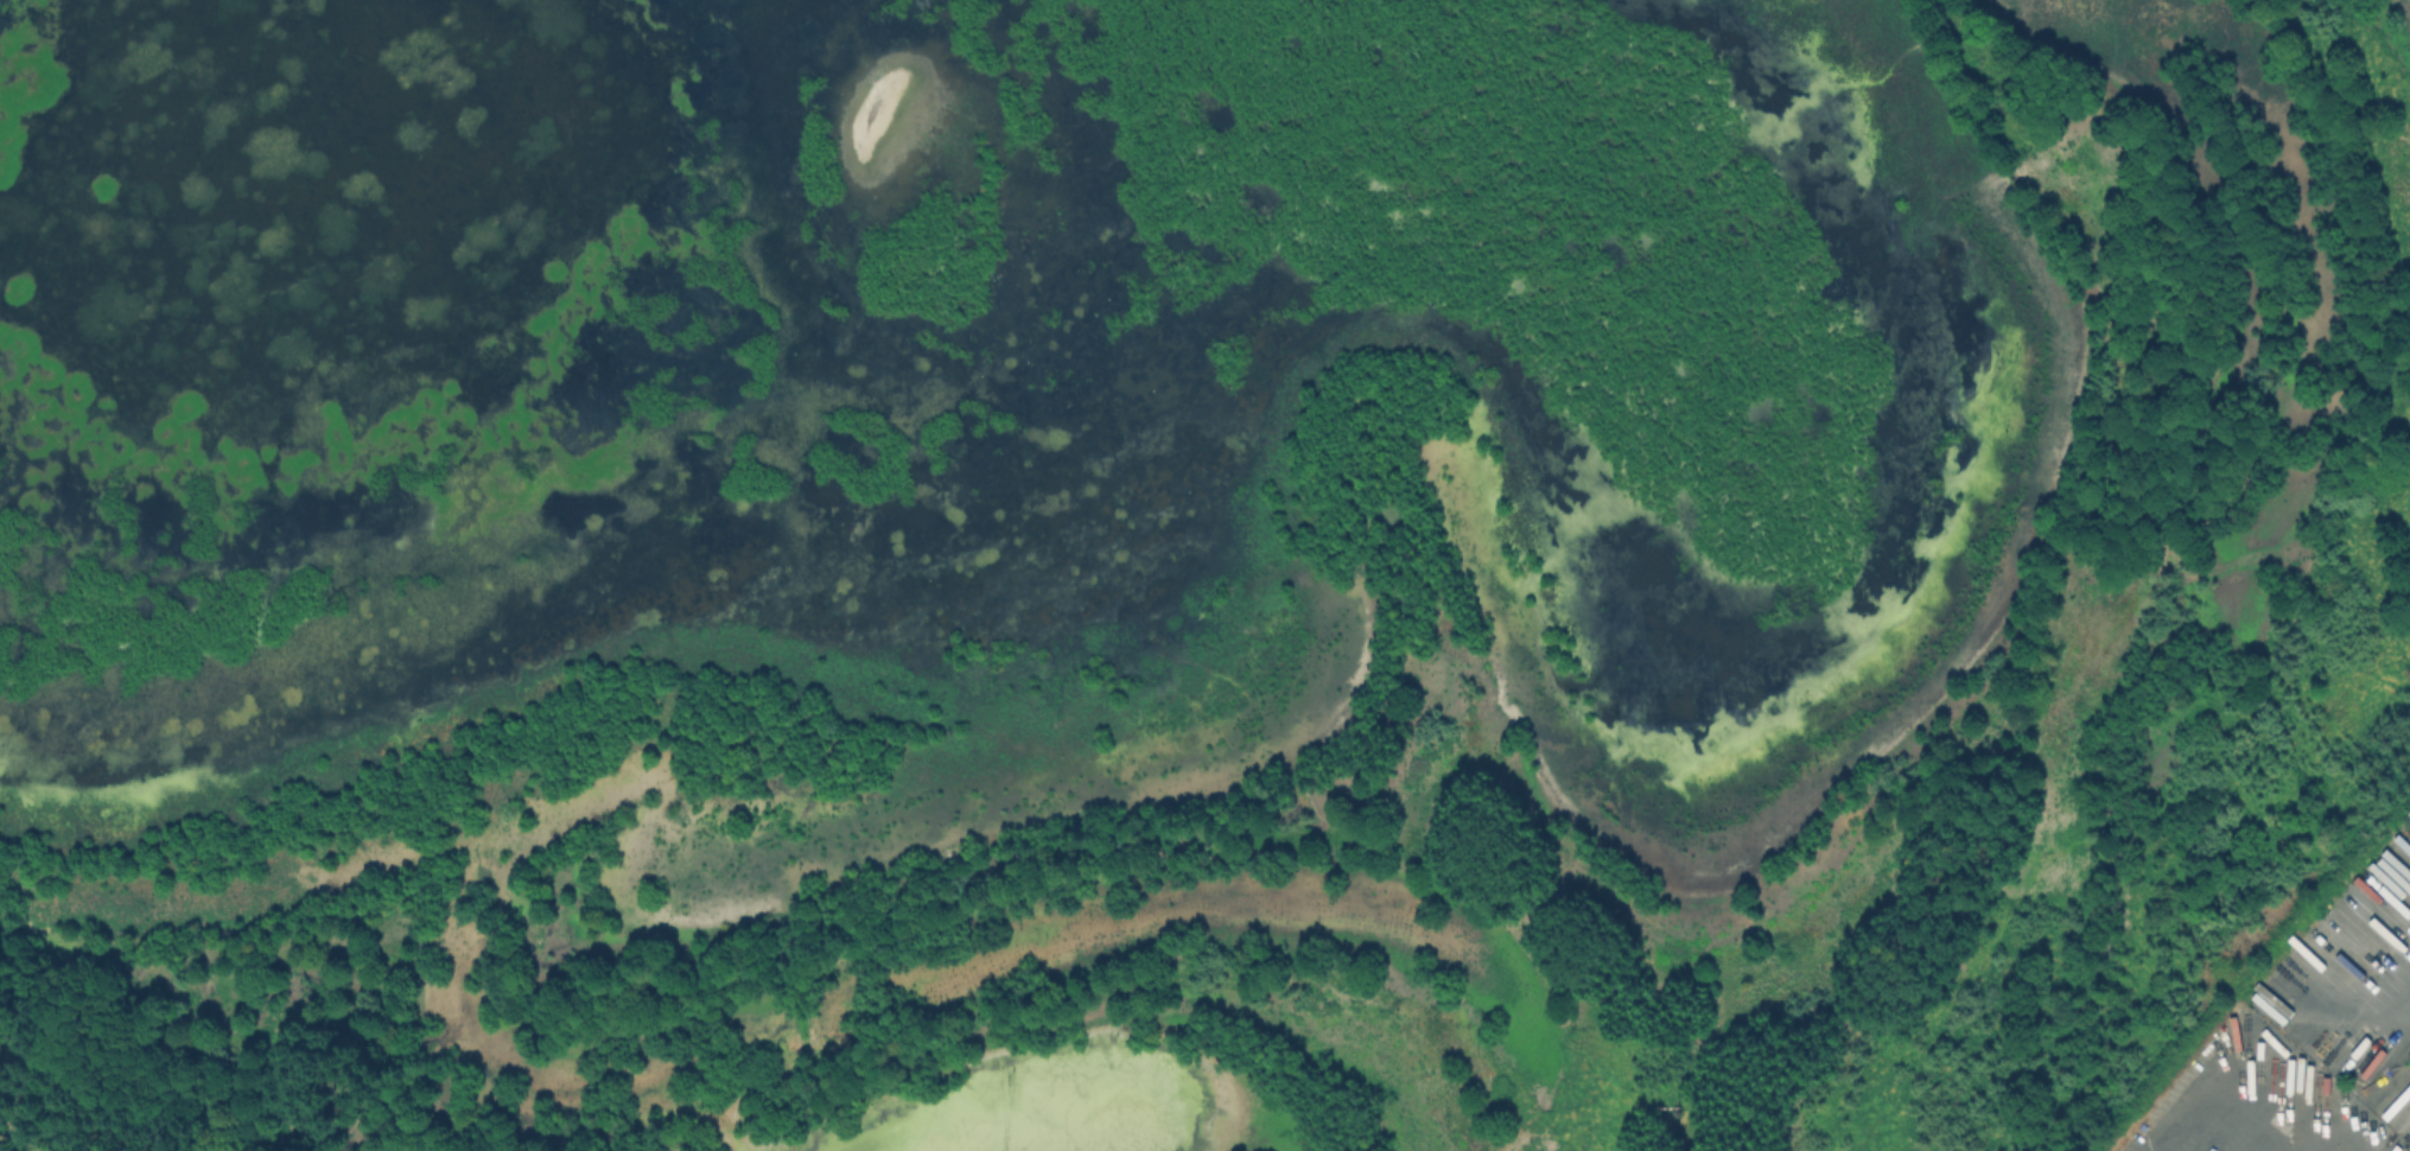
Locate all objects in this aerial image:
road: (2402, 978)
road: (2259, 1026)

